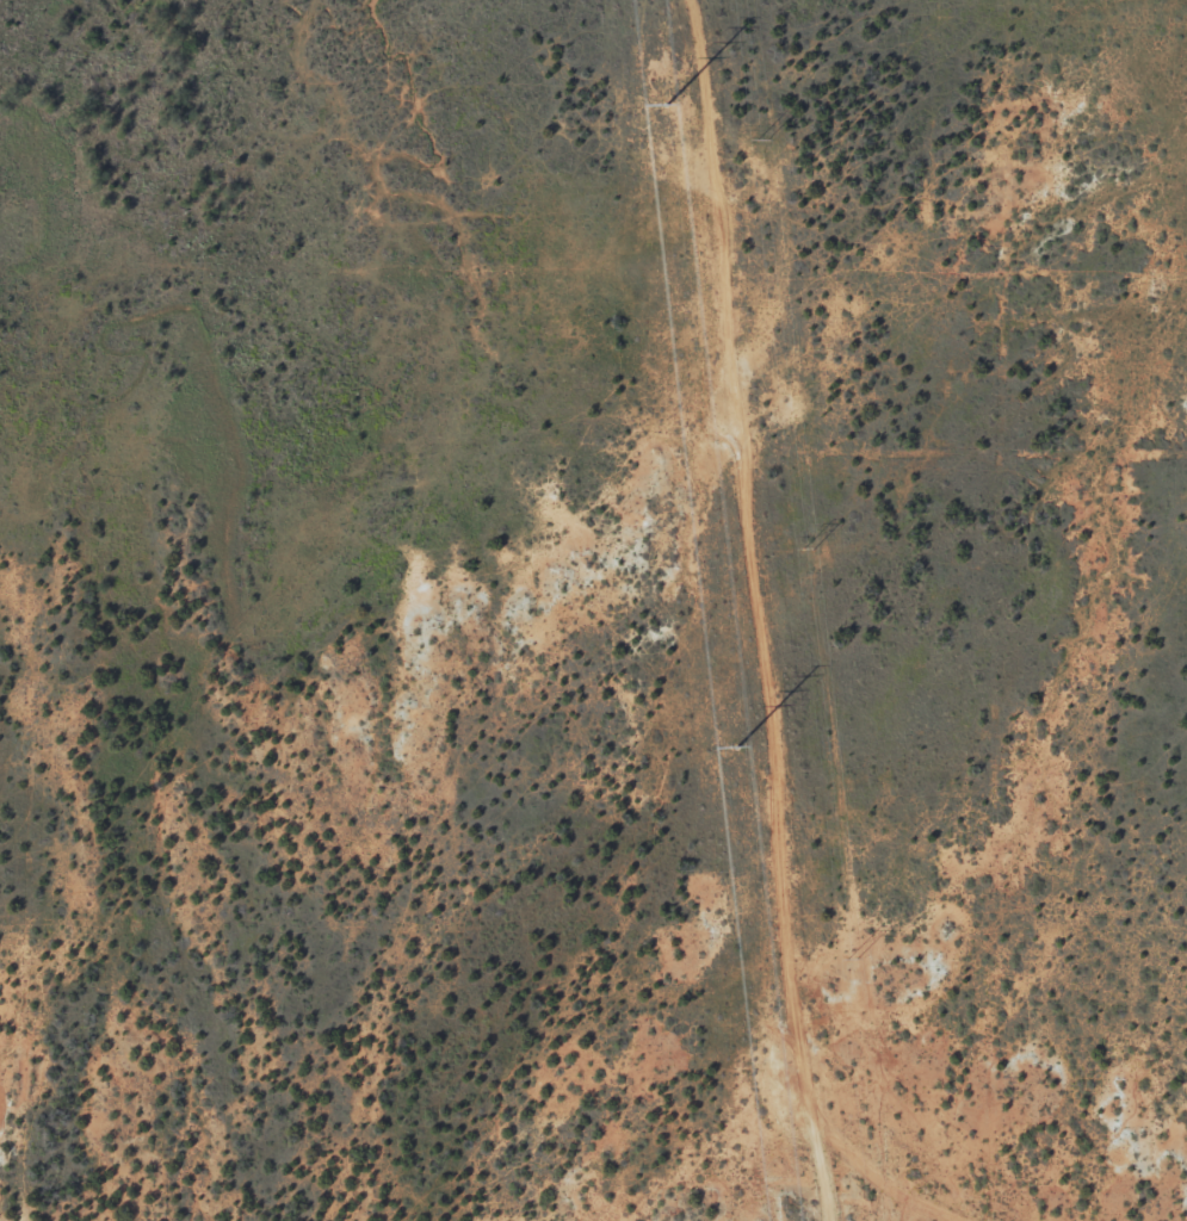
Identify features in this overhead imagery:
power tower: (667, 105)
power tower: (761, 137)
power tower: (805, 545)
power tower: (737, 748)
power tower: (852, 955)

